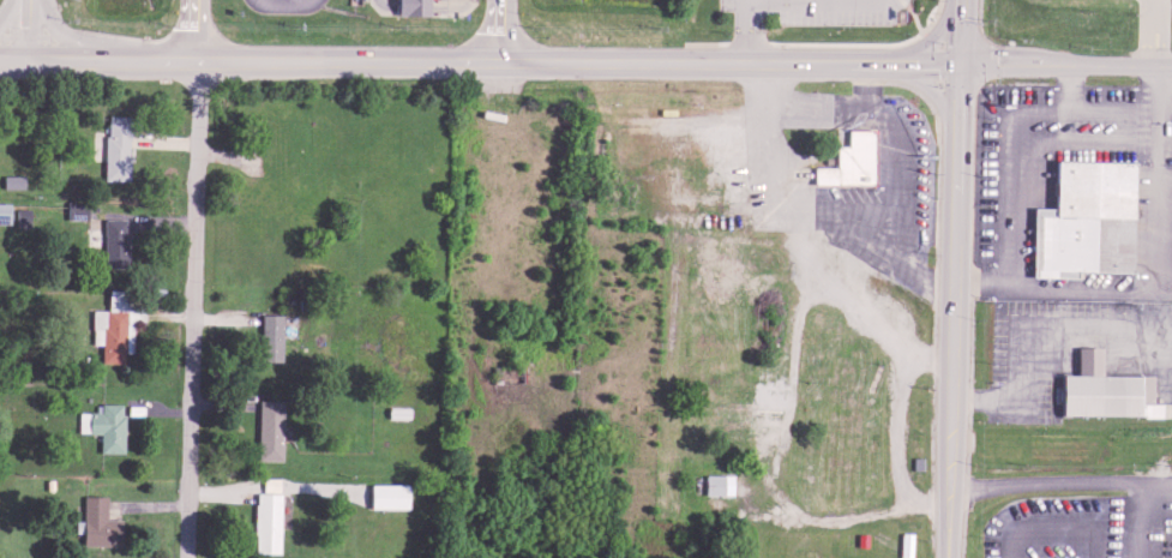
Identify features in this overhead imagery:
road: (961, 5)
building: (416, 7)
road: (8, 10)
road: (743, 10)
road: (59, 30)
road: (26, 31)
road: (194, 31)
road: (501, 32)
road: (1154, 32)
road: (930, 37)
road: (960, 38)
road: (743, 42)
road: (12, 62)
road: (54, 62)
road: (97, 62)
road: (479, 65)
road: (875, 66)
road: (930, 66)
traffic signals: (960, 66)
road: (998, 66)
road: (1104, 67)
road: (958, 88)
road: (928, 89)
building: (115, 144)
road: (771, 144)
building: (854, 160)
road: (957, 160)
road: (1000, 163)
building: (906, 168)
road: (1156, 173)
building: (11, 178)
building: (20, 215)
building: (1086, 227)
building: (114, 240)
road: (191, 310)
road: (954, 313)
building: (114, 323)
building: (269, 334)
road: (1011, 389)
building: (1102, 395)
building: (103, 424)
building: (268, 427)
building: (716, 481)
road: (1060, 481)
road: (950, 487)
building: (384, 493)
building: (265, 515)
building: (97, 520)

